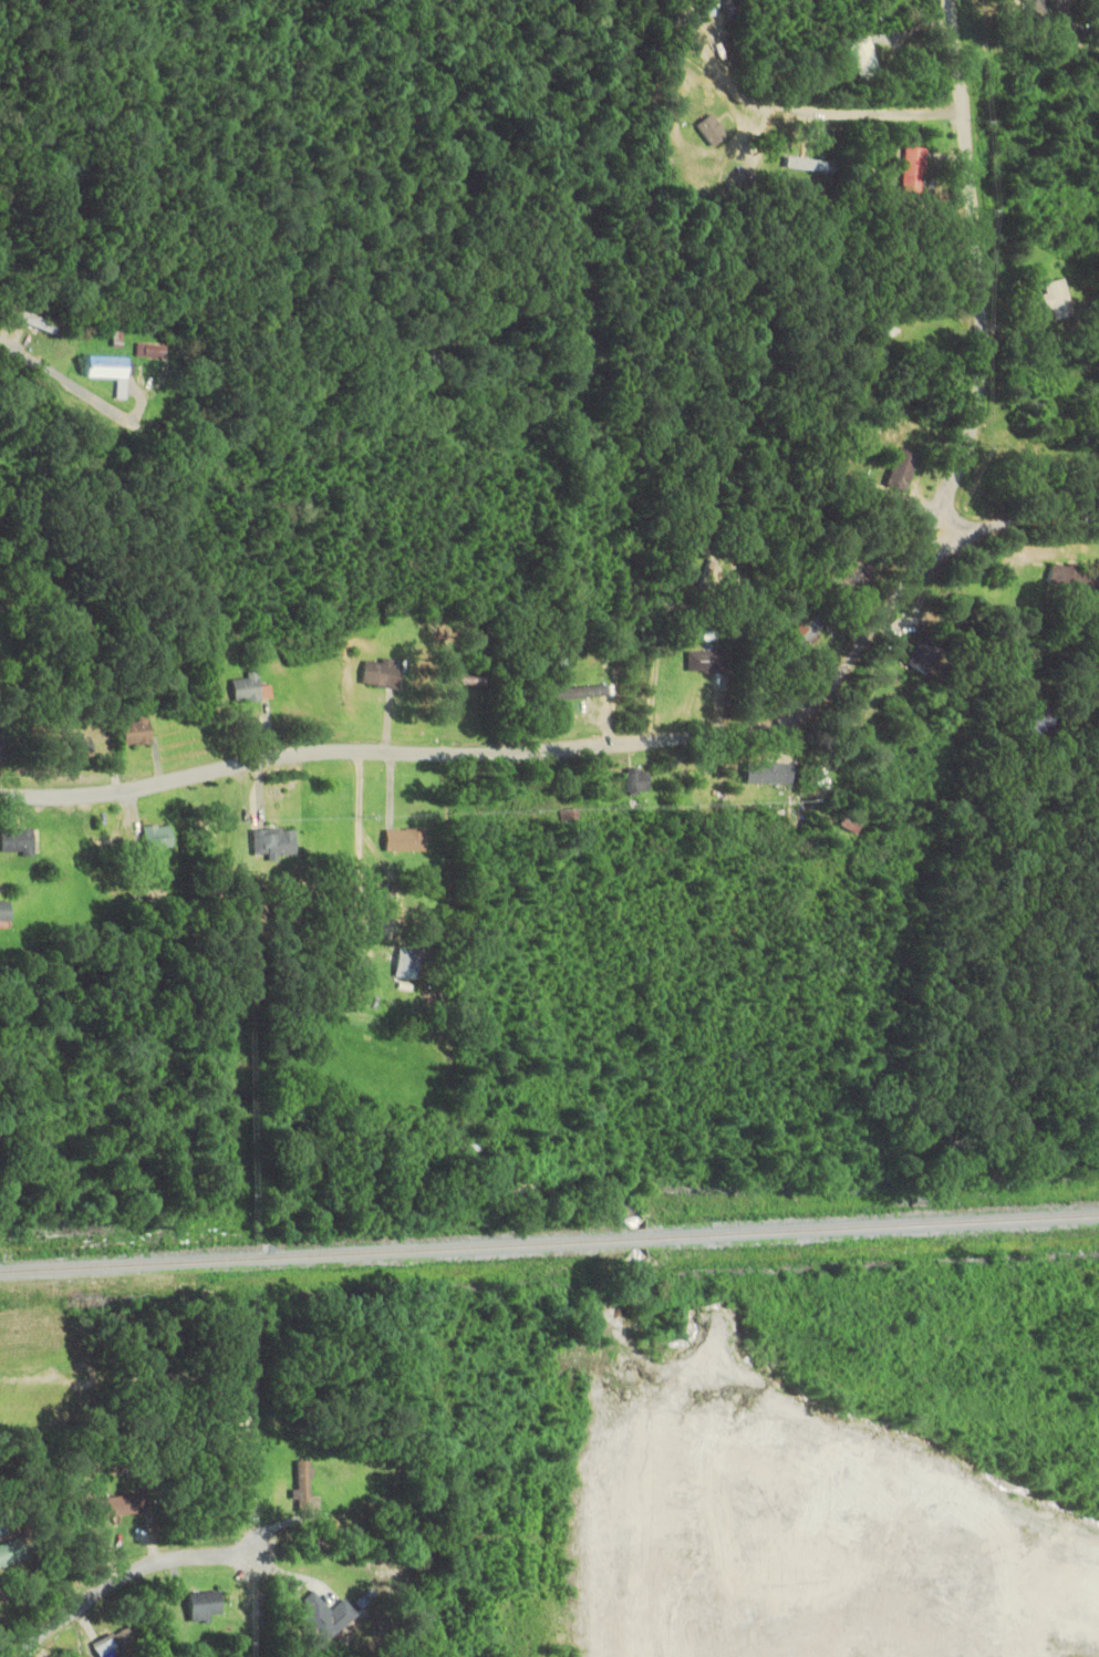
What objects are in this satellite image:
building: (1040, 12)
building: (863, 58)
building: (692, 68)
road: (696, 72)
road: (832, 120)
building: (810, 165)
building: (913, 170)
road: (975, 267)
building: (1055, 300)
building: (31, 321)
building: (148, 352)
building: (110, 373)
building: (1045, 382)
road: (86, 400)
building: (899, 472)
building: (1071, 577)
building: (851, 581)
road: (871, 629)
building: (801, 633)
building: (922, 654)
building: (704, 662)
building: (380, 674)
building: (249, 690)
building: (577, 693)
building: (135, 732)
road: (601, 748)
building: (72, 752)
road: (280, 755)
building: (760, 773)
building: (635, 780)
building: (155, 837)
building: (404, 840)
building: (15, 841)
building: (272, 842)
building: (382, 891)
building: (4, 912)
building: (405, 963)
railway: (549, 1243)
building: (300, 1487)
building: (121, 1505)
building: (10, 1554)
road: (120, 1580)
building: (203, 1606)
building: (311, 1614)
building: (114, 1644)

